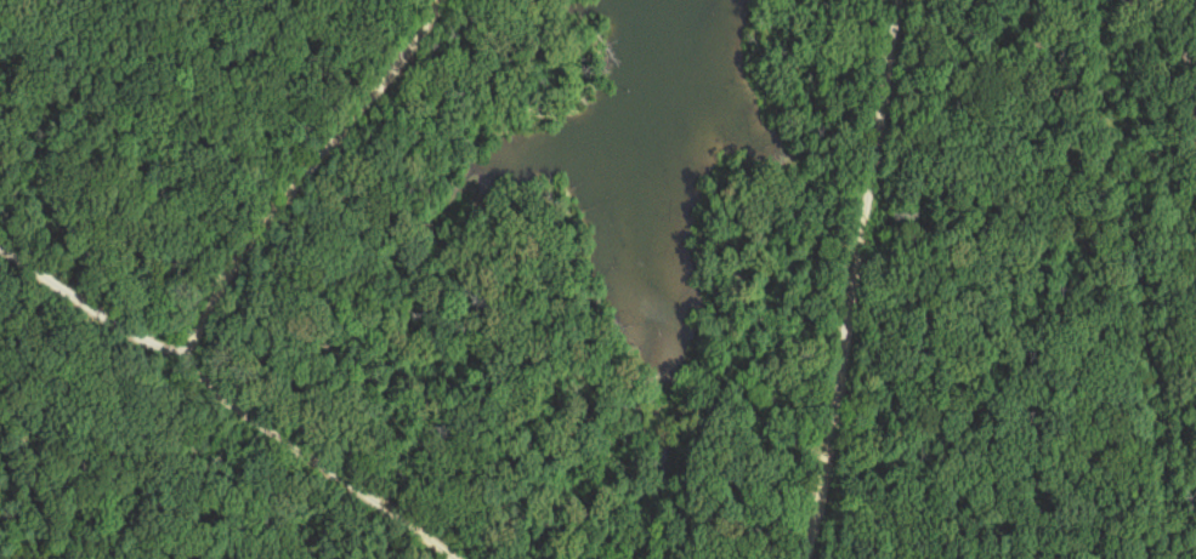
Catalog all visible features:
road: (297, 176)
road: (840, 278)
road: (223, 399)

